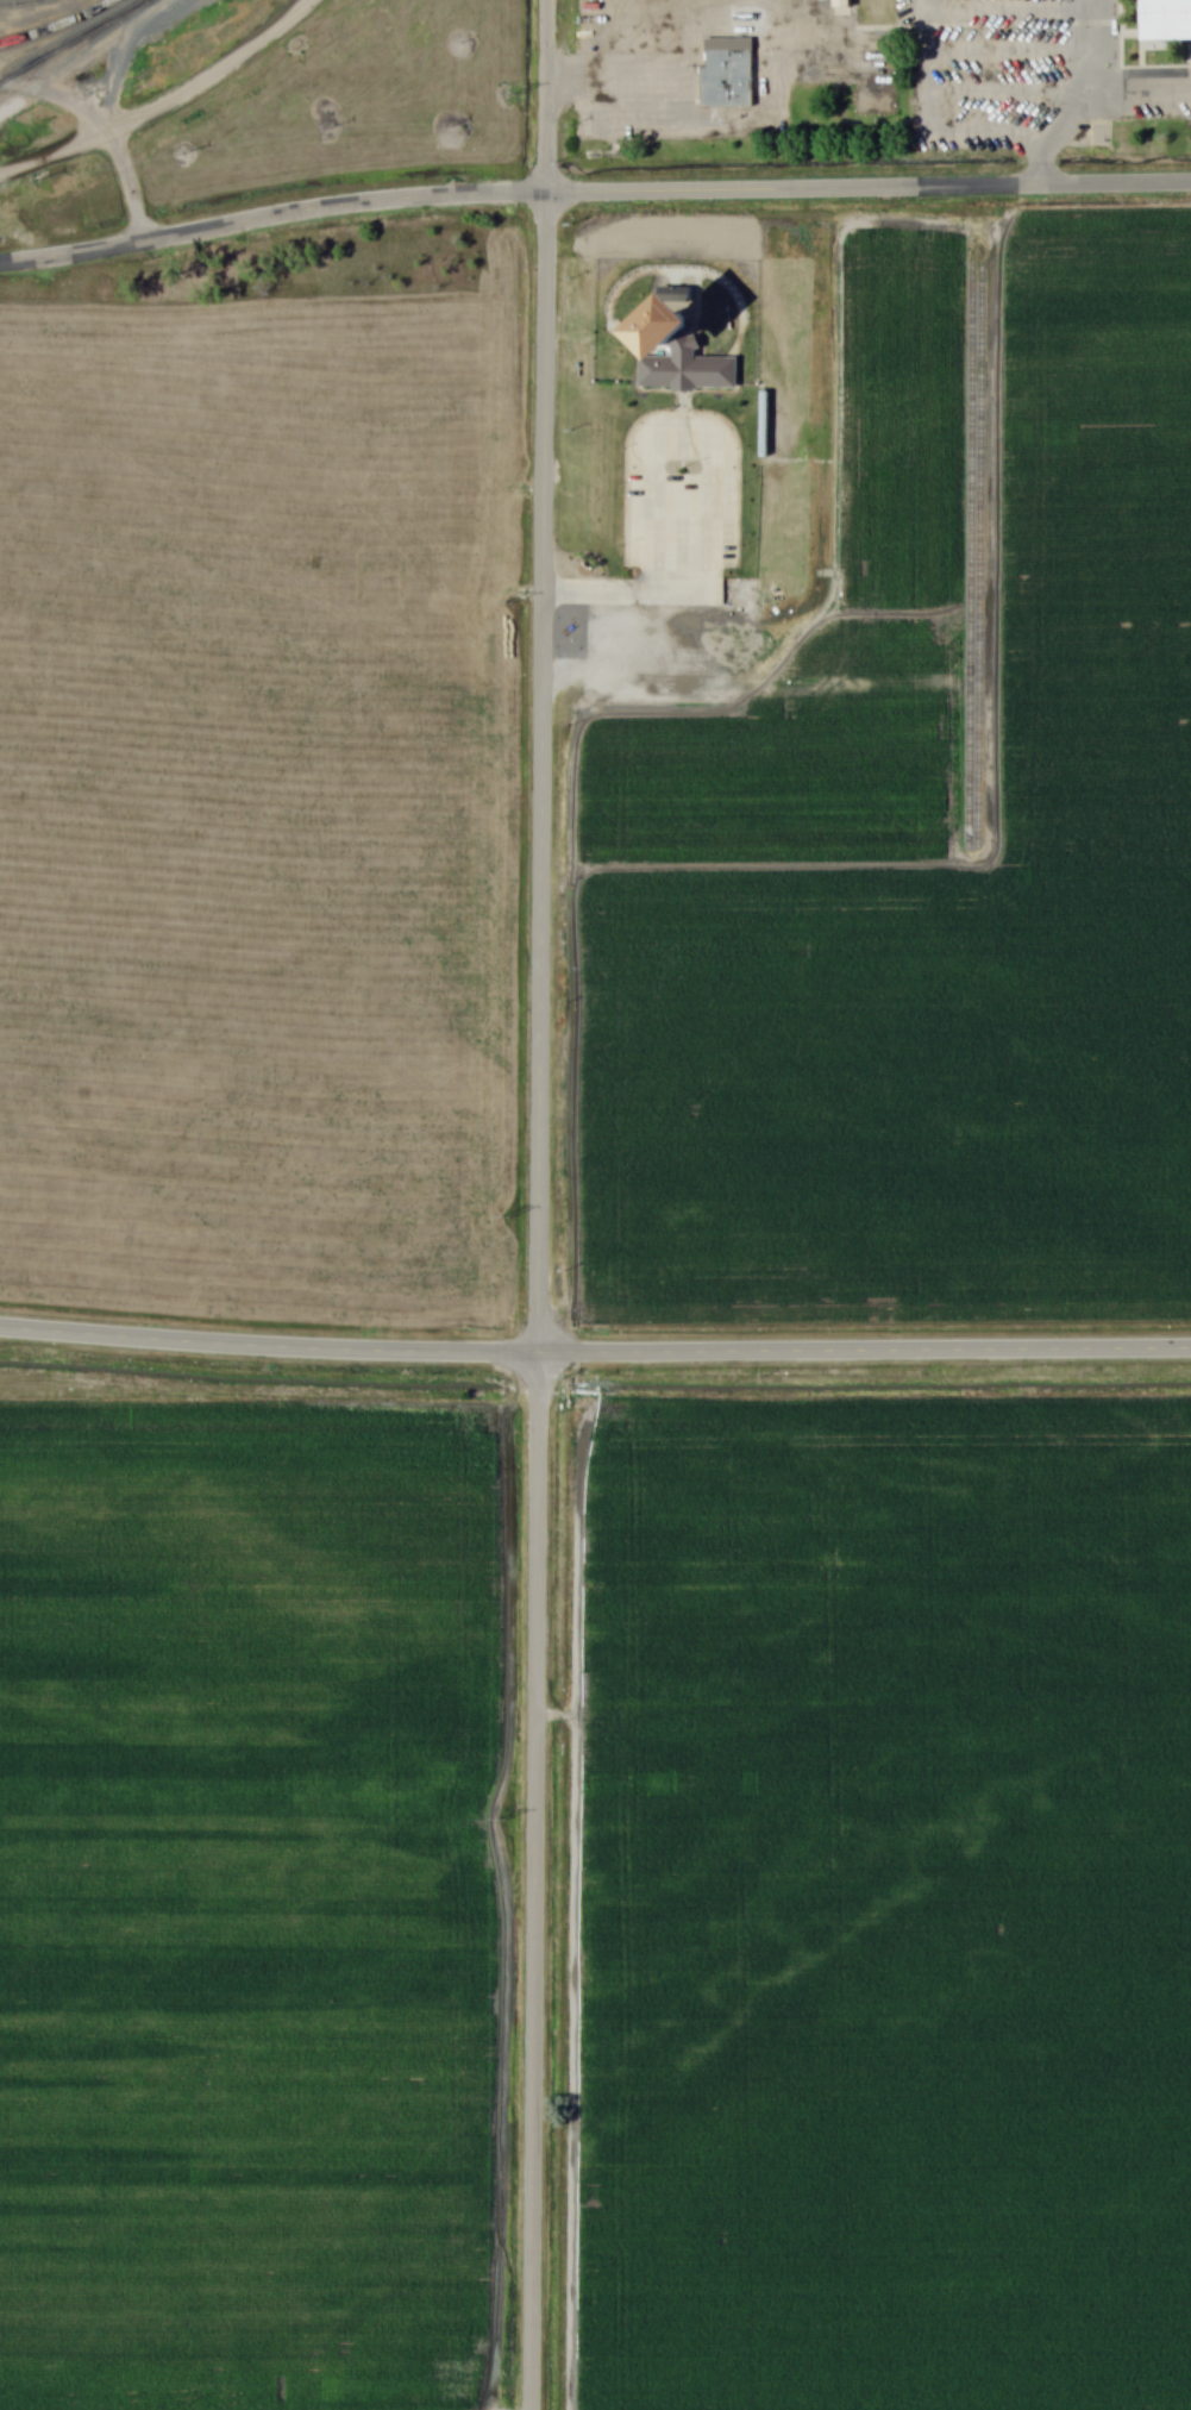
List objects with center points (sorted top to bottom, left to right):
railway: (14, 1)
building: (842, 4)
building: (1166, 20)
railway: (58, 26)
railway: (70, 39)
railway: (71, 49)
building: (726, 70)
road: (618, 76)
parking lot: (990, 77)
road: (1147, 89)
road: (547, 96)
road: (167, 105)
road: (998, 131)
road: (1036, 157)
road: (128, 187)
road: (869, 189)
road: (271, 217)
road: (697, 286)
road: (738, 305)
building: (678, 320)
building: (687, 368)
parking lot: (681, 489)
road: (712, 495)
road: (543, 771)
crop: (952, 928)
road: (595, 1348)
road: (534, 1879)
crop: (892, 1898)
crop: (246, 1903)

